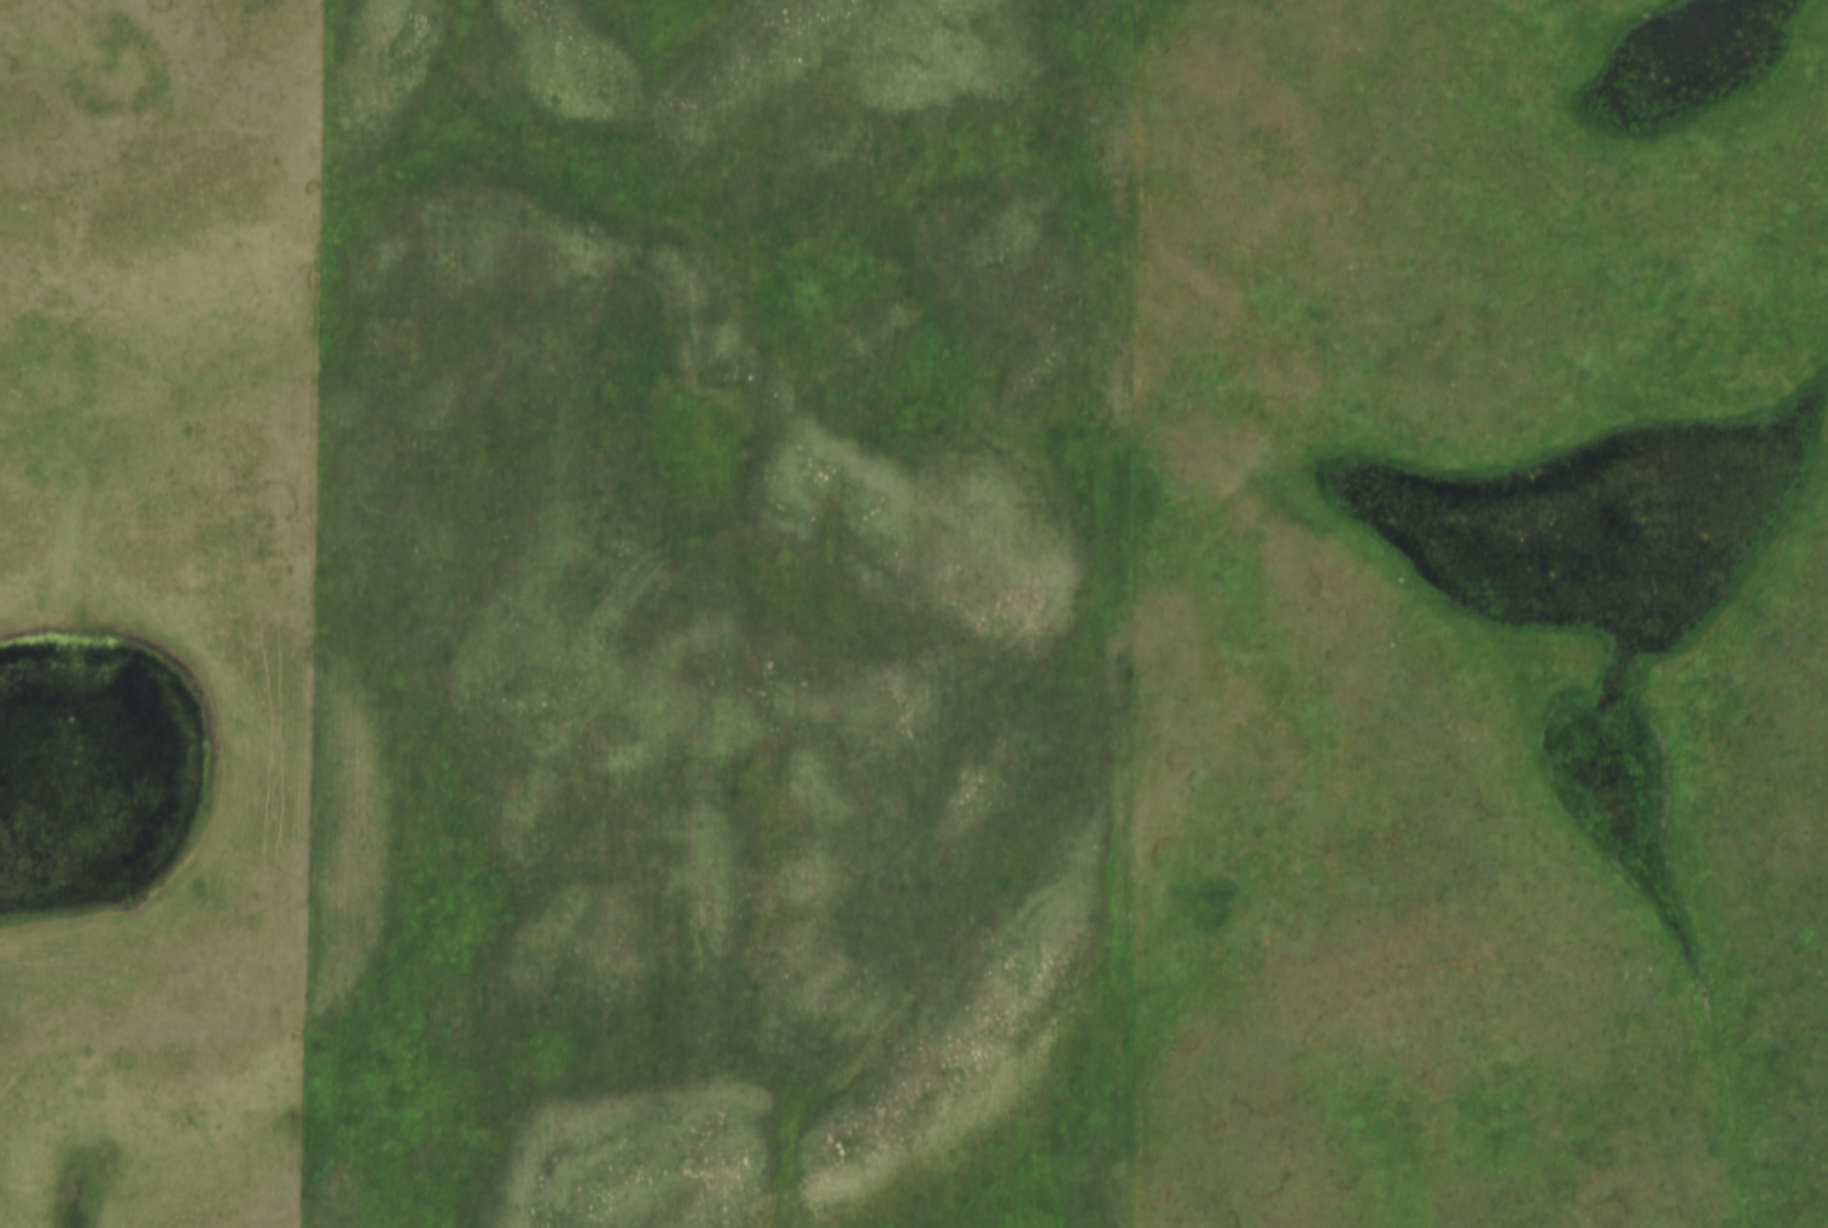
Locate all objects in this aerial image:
road: (1125, 613)

